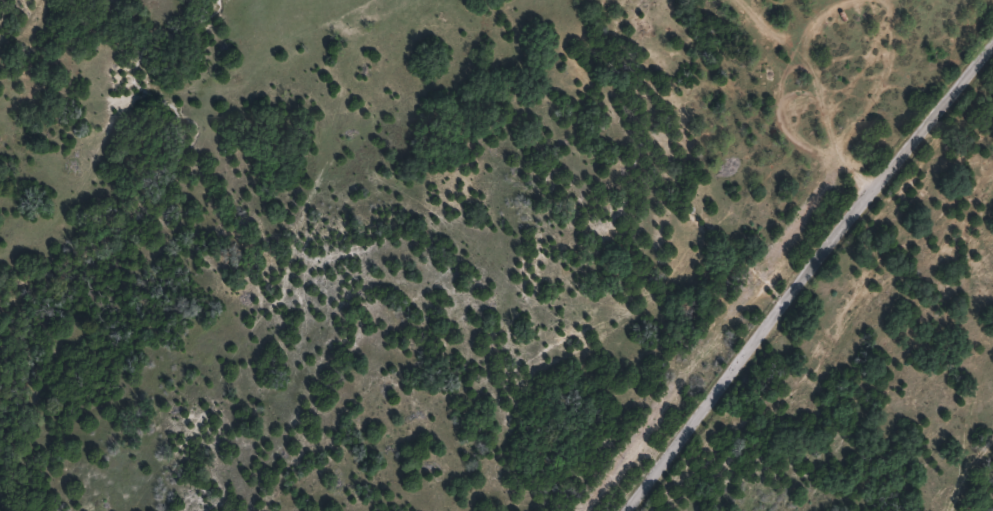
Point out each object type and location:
road: (806, 273)

